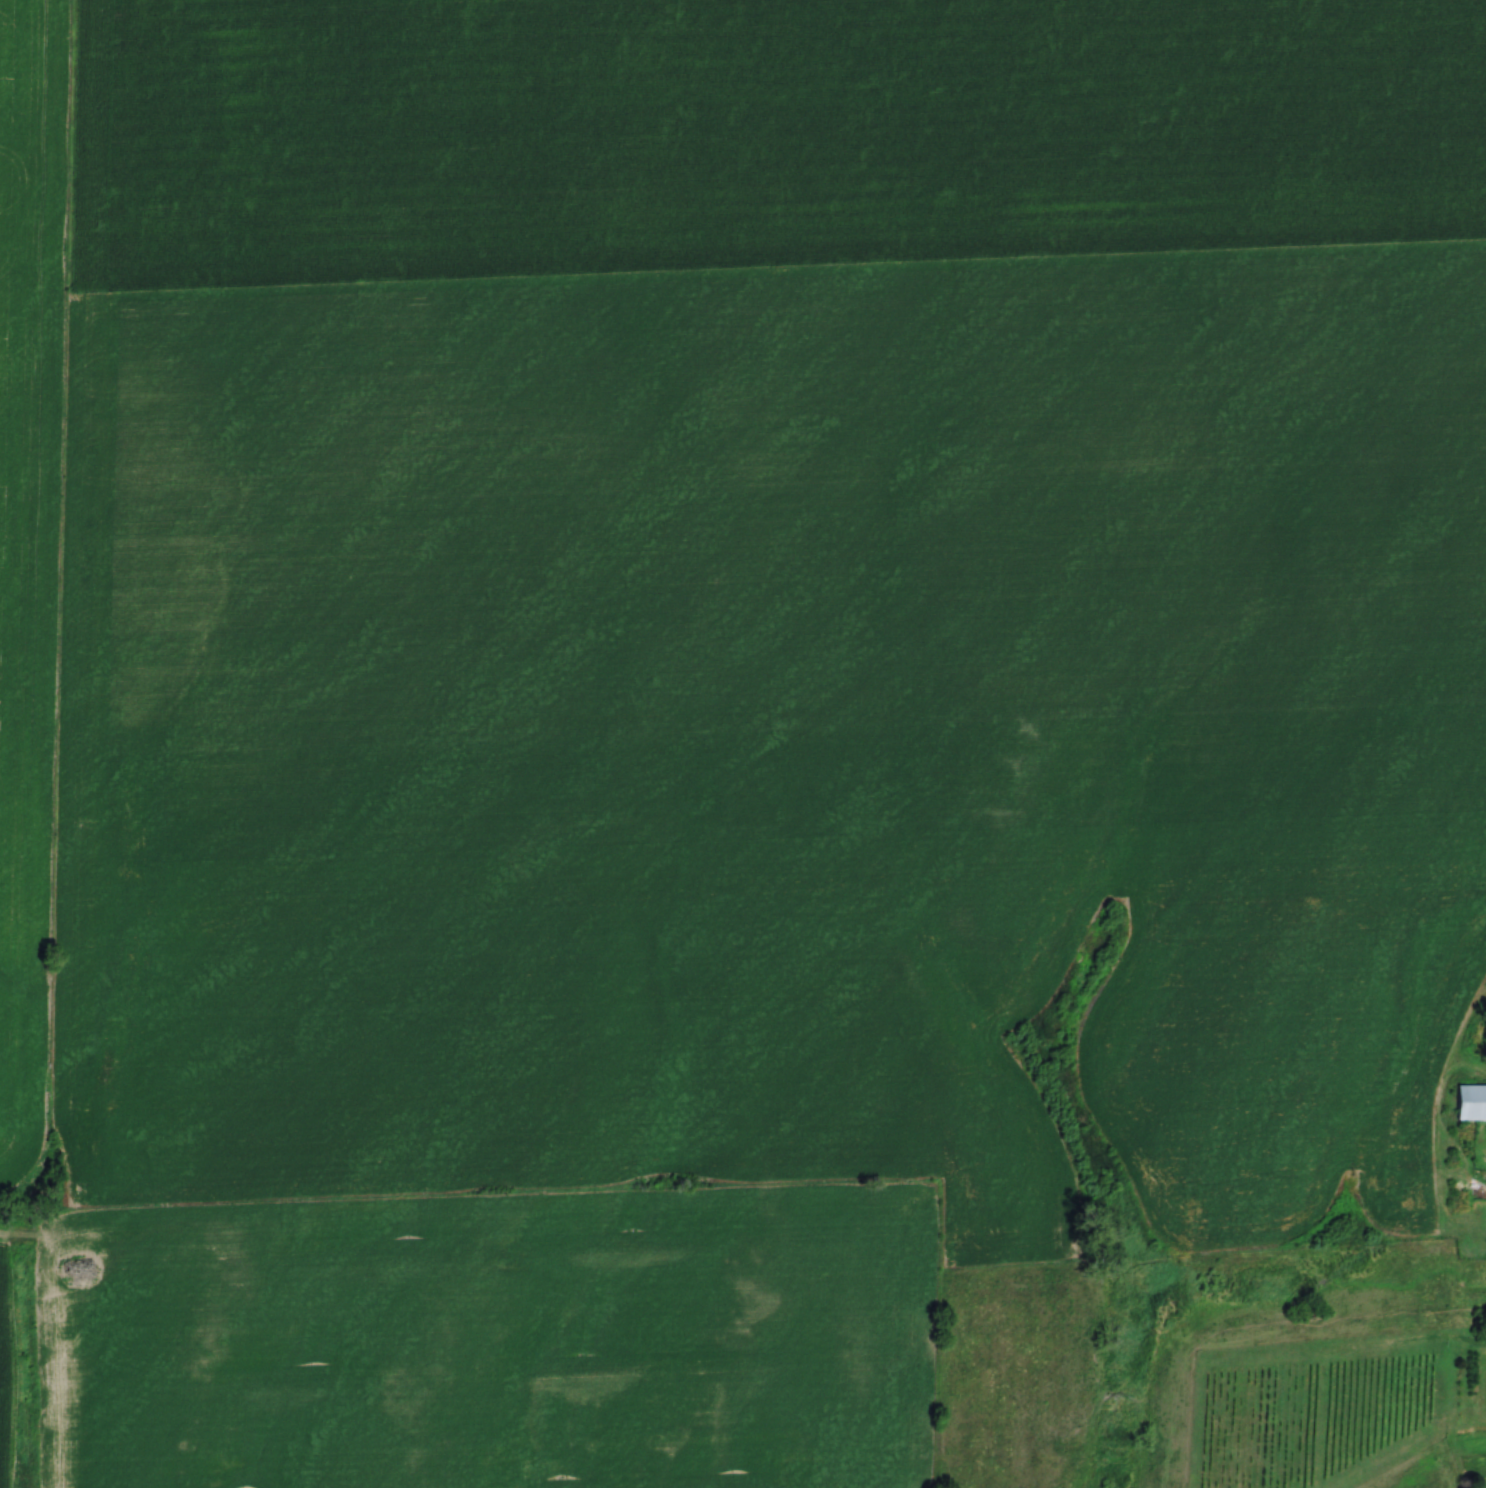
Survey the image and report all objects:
building: (1471, 1101)

